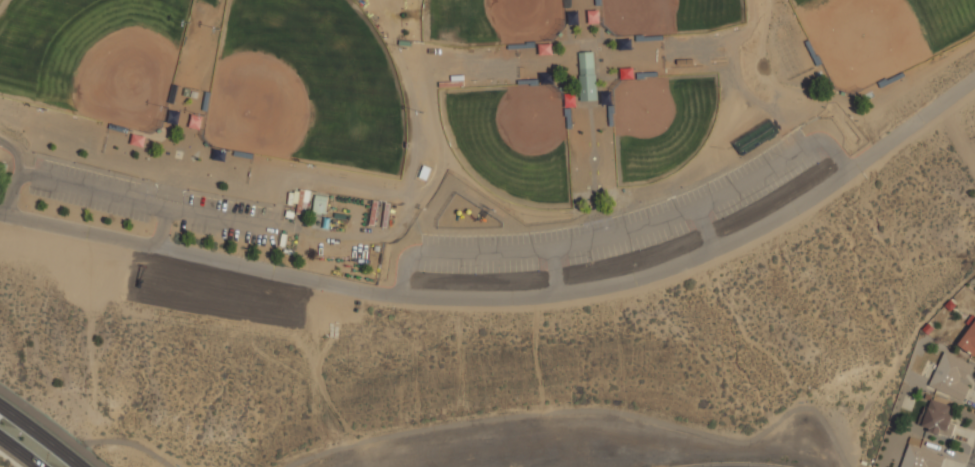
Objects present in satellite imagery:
park: (672, 16)
park: (499, 22)
park: (882, 35)
park: (95, 56)
building: (586, 76)
park: (308, 86)
park: (666, 123)
park: (515, 141)
road: (14, 176)
parking lot: (95, 177)
parking lot: (86, 201)
road: (143, 204)
building: (320, 204)
parking lot: (227, 206)
park: (463, 208)
parking lot: (618, 221)
road: (160, 227)
road: (704, 228)
parking lot: (228, 232)
road: (624, 232)
road: (553, 271)
road: (512, 298)
building: (969, 337)
building: (951, 376)
building: (938, 418)
road: (36, 437)
road: (17, 453)
building: (921, 458)
road: (974, 466)

